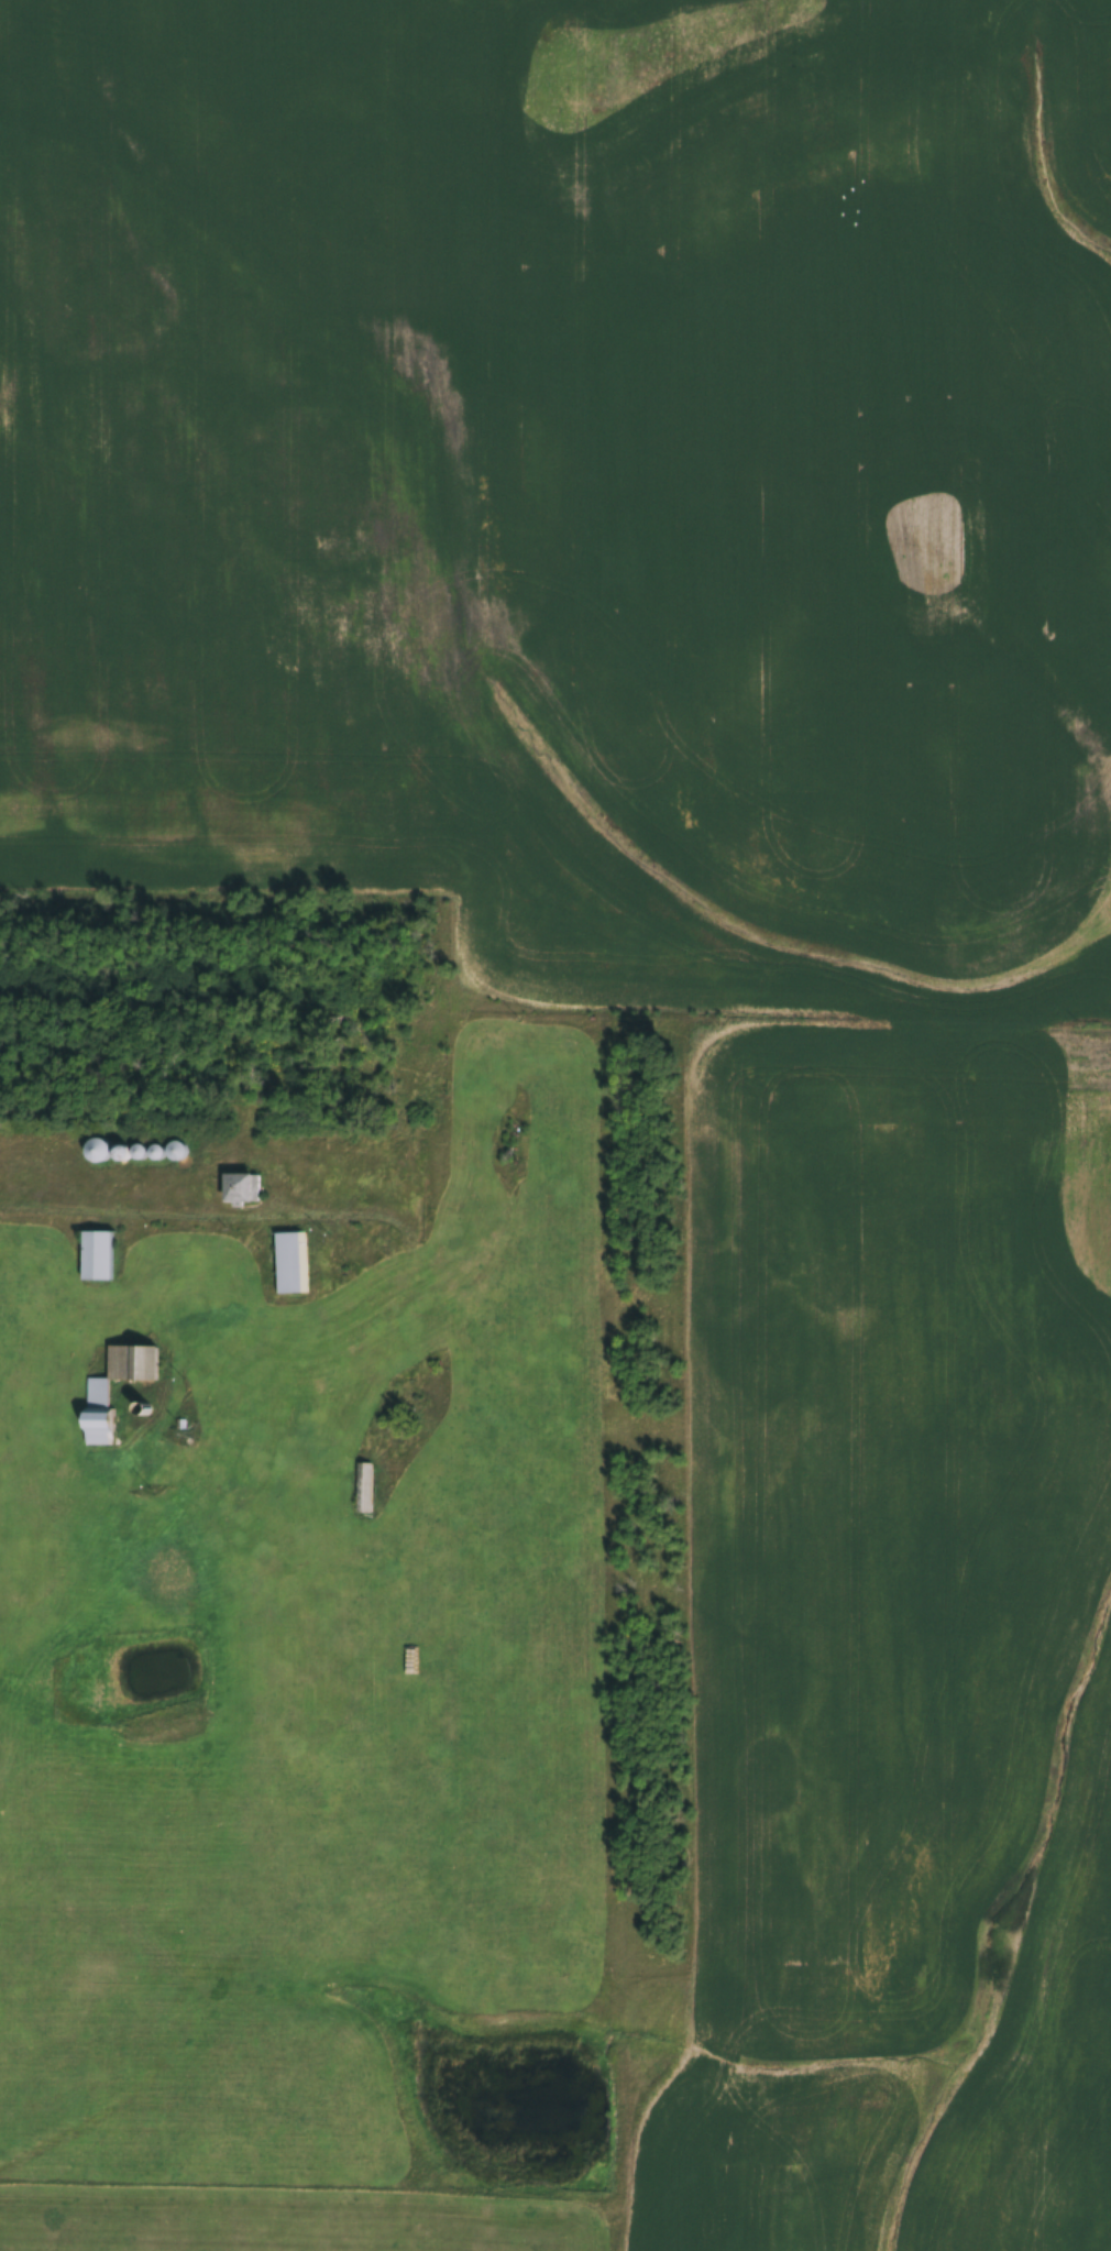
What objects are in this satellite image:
building: (176, 1150)
building: (98, 1151)
building: (121, 1154)
building: (242, 1186)
road: (142, 1215)
building: (97, 1254)
building: (289, 1261)
building: (99, 1412)
building: (364, 1487)
building: (7, 1516)
building: (391, 1732)

